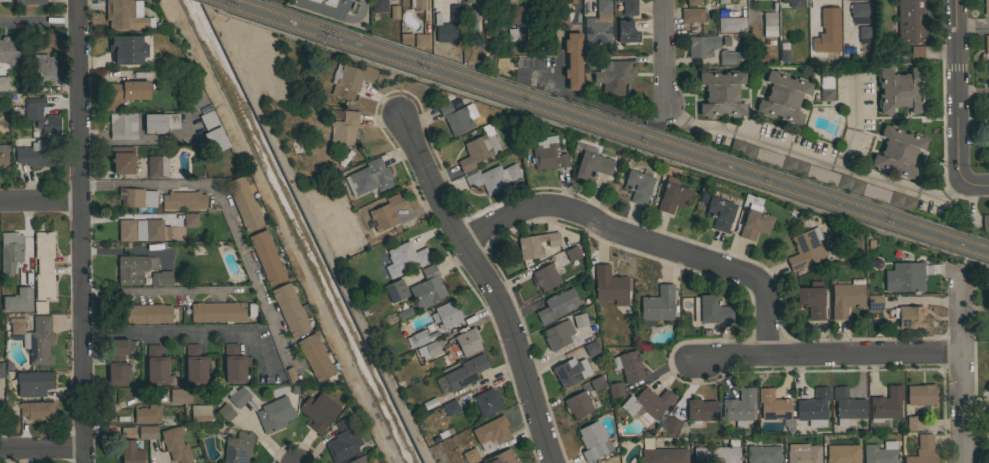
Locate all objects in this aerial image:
building: (4, 0)
building: (757, 0)
building: (858, 0)
building: (29, 1)
building: (468, 1)
building: (498, 1)
building: (544, 1)
building: (564, 1)
building: (691, 2)
building: (721, 2)
building: (794, 3)
building: (416, 4)
building: (378, 5)
building: (709, 5)
building: (628, 6)
building: (986, 7)
building: (486, 11)
building: (454, 12)
building: (390, 13)
building: (720, 13)
building: (859, 13)
building: (124, 14)
building: (513, 14)
road: (356, 15)
building: (691, 16)
building: (562, 17)
building: (767, 20)
building: (910, 21)
road: (39, 22)
building: (598, 24)
building: (729, 25)
building: (445, 30)
road: (972, 30)
building: (625, 31)
building: (827, 31)
building: (532, 33)
building: (514, 34)
building: (863, 35)
building: (421, 40)
building: (986, 44)
building: (697, 47)
building: (127, 49)
building: (9, 50)
road: (664, 51)
building: (782, 51)
building: (916, 53)
building: (728, 57)
building: (590, 59)
building: (572, 60)
building: (38, 67)
building: (988, 74)
building: (615, 76)
building: (348, 81)
building: (4, 83)
road: (957, 89)
building: (900, 90)
building: (126, 93)
building: (721, 93)
building: (826, 94)
building: (781, 97)
road: (590, 100)
building: (987, 111)
building: (42, 117)
building: (456, 117)
building: (160, 122)
railway: (616, 123)
building: (122, 125)
building: (344, 127)
railway: (602, 127)
building: (211, 131)
road: (142, 140)
road: (791, 147)
building: (478, 148)
building: (741, 149)
building: (987, 149)
building: (896, 152)
building: (34, 153)
building: (545, 154)
building: (3, 156)
building: (767, 158)
building: (121, 159)
building: (589, 163)
building: (156, 166)
building: (792, 166)
building: (820, 175)
building: (492, 177)
building: (368, 178)
road: (975, 182)
building: (638, 185)
building: (849, 185)
building: (874, 193)
building: (672, 195)
road: (40, 197)
building: (136, 197)
building: (184, 200)
building: (900, 202)
building: (243, 203)
road: (226, 208)
building: (718, 211)
building: (384, 213)
building: (189, 219)
building: (754, 222)
building: (985, 222)
building: (126, 229)
building: (140, 229)
building: (156, 230)
road: (282, 230)
road: (80, 231)
road: (642, 237)
building: (536, 244)
building: (805, 249)
building: (10, 251)
building: (572, 252)
building: (266, 257)
building: (403, 258)
building: (43, 264)
building: (131, 268)
building: (545, 276)
building: (904, 276)
building: (161, 277)
road: (484, 285)
building: (610, 285)
building: (427, 287)
road: (159, 290)
building: (396, 290)
building: (846, 297)
building: (811, 299)
building: (17, 301)
building: (874, 302)
building: (657, 305)
building: (40, 306)
building: (557, 306)
road: (522, 308)
building: (289, 309)
building: (709, 310)
building: (217, 311)
building: (144, 312)
building: (403, 313)
building: (446, 314)
building: (908, 316)
building: (579, 320)
road: (185, 333)
building: (558, 334)
building: (34, 339)
building: (415, 339)
building: (467, 341)
building: (430, 348)
building: (591, 348)
road: (827, 353)
building: (447, 356)
building: (315, 357)
building: (117, 361)
building: (988, 362)
building: (234, 363)
building: (195, 364)
building: (156, 365)
building: (630, 365)
road: (960, 365)
building: (1, 369)
building: (570, 370)
building: (464, 372)
building: (289, 376)
building: (597, 382)
building: (33, 383)
building: (615, 389)
building: (180, 395)
building: (918, 395)
building: (237, 397)
road: (975, 401)
building: (486, 402)
building: (581, 403)
building: (428, 404)
building: (646, 404)
building: (773, 404)
building: (846, 405)
building: (739, 406)
building: (449, 407)
building: (884, 407)
building: (812, 408)
building: (35, 410)
building: (317, 411)
building: (700, 411)
building: (200, 412)
building: (224, 413)
building: (146, 414)
building: (274, 414)
building: (913, 423)
building: (669, 424)
building: (126, 432)
building: (491, 432)
building: (146, 433)
building: (593, 440)
building: (342, 441)
building: (174, 445)
building: (238, 447)
road: (42, 450)
building: (988, 450)
building: (922, 451)
building: (129, 452)
building: (802, 453)
building: (879, 453)
building: (660, 454)
building: (716, 454)
building: (763, 454)
building: (841, 454)
building: (469, 456)
road: (158, 457)
building: (501, 457)
building: (358, 459)
building: (379, 462)

